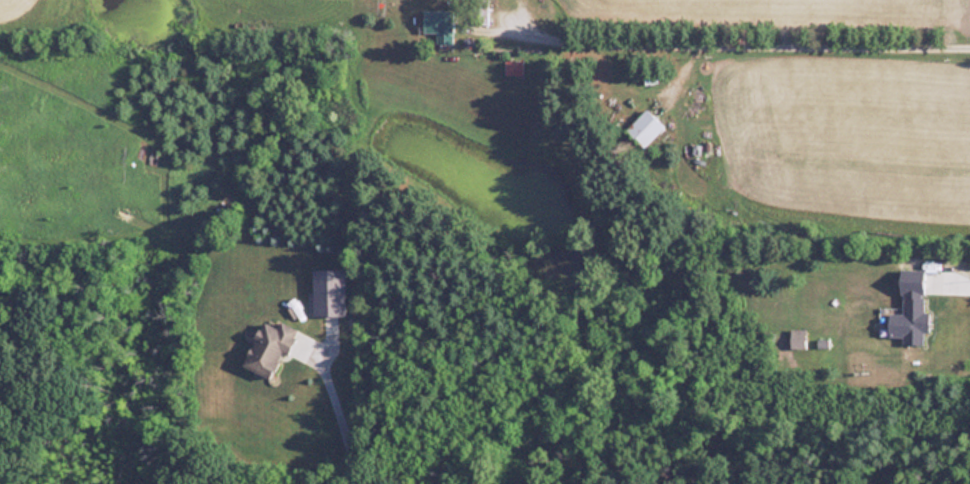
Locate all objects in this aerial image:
building: (440, 24)
road: (777, 35)
building: (514, 67)
building: (645, 127)
building: (330, 292)
building: (913, 321)
building: (270, 349)
road: (336, 413)

